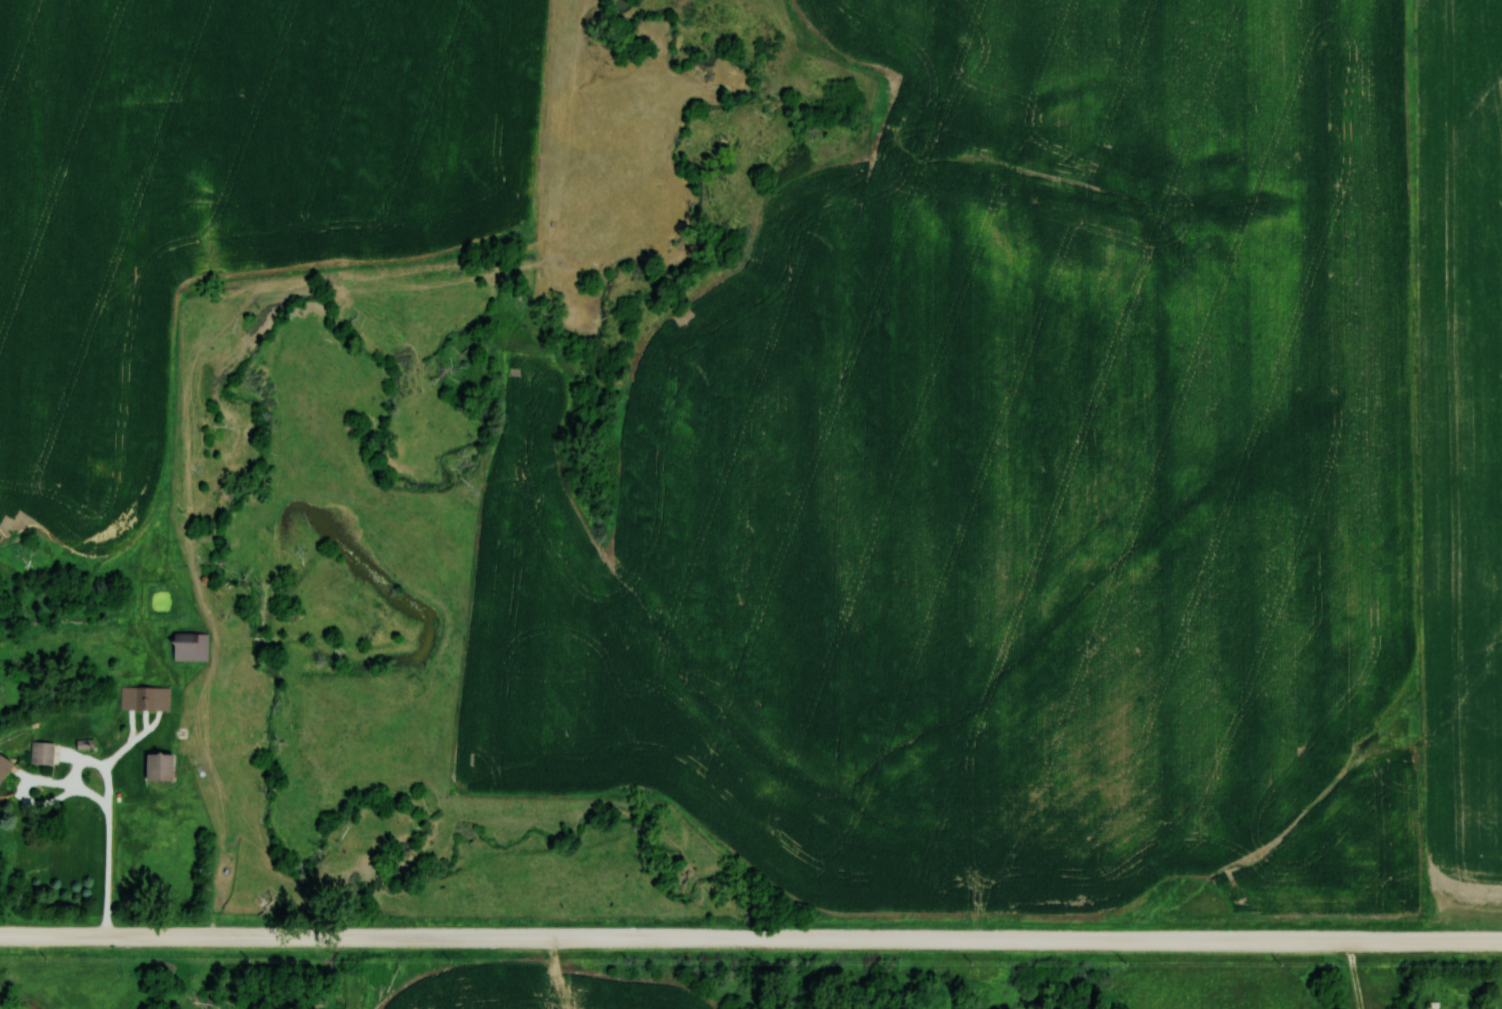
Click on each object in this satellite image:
building: (187, 646)
building: (143, 698)
building: (39, 753)
building: (2, 766)
building: (155, 767)
road: (750, 939)
building: (1431, 1005)

